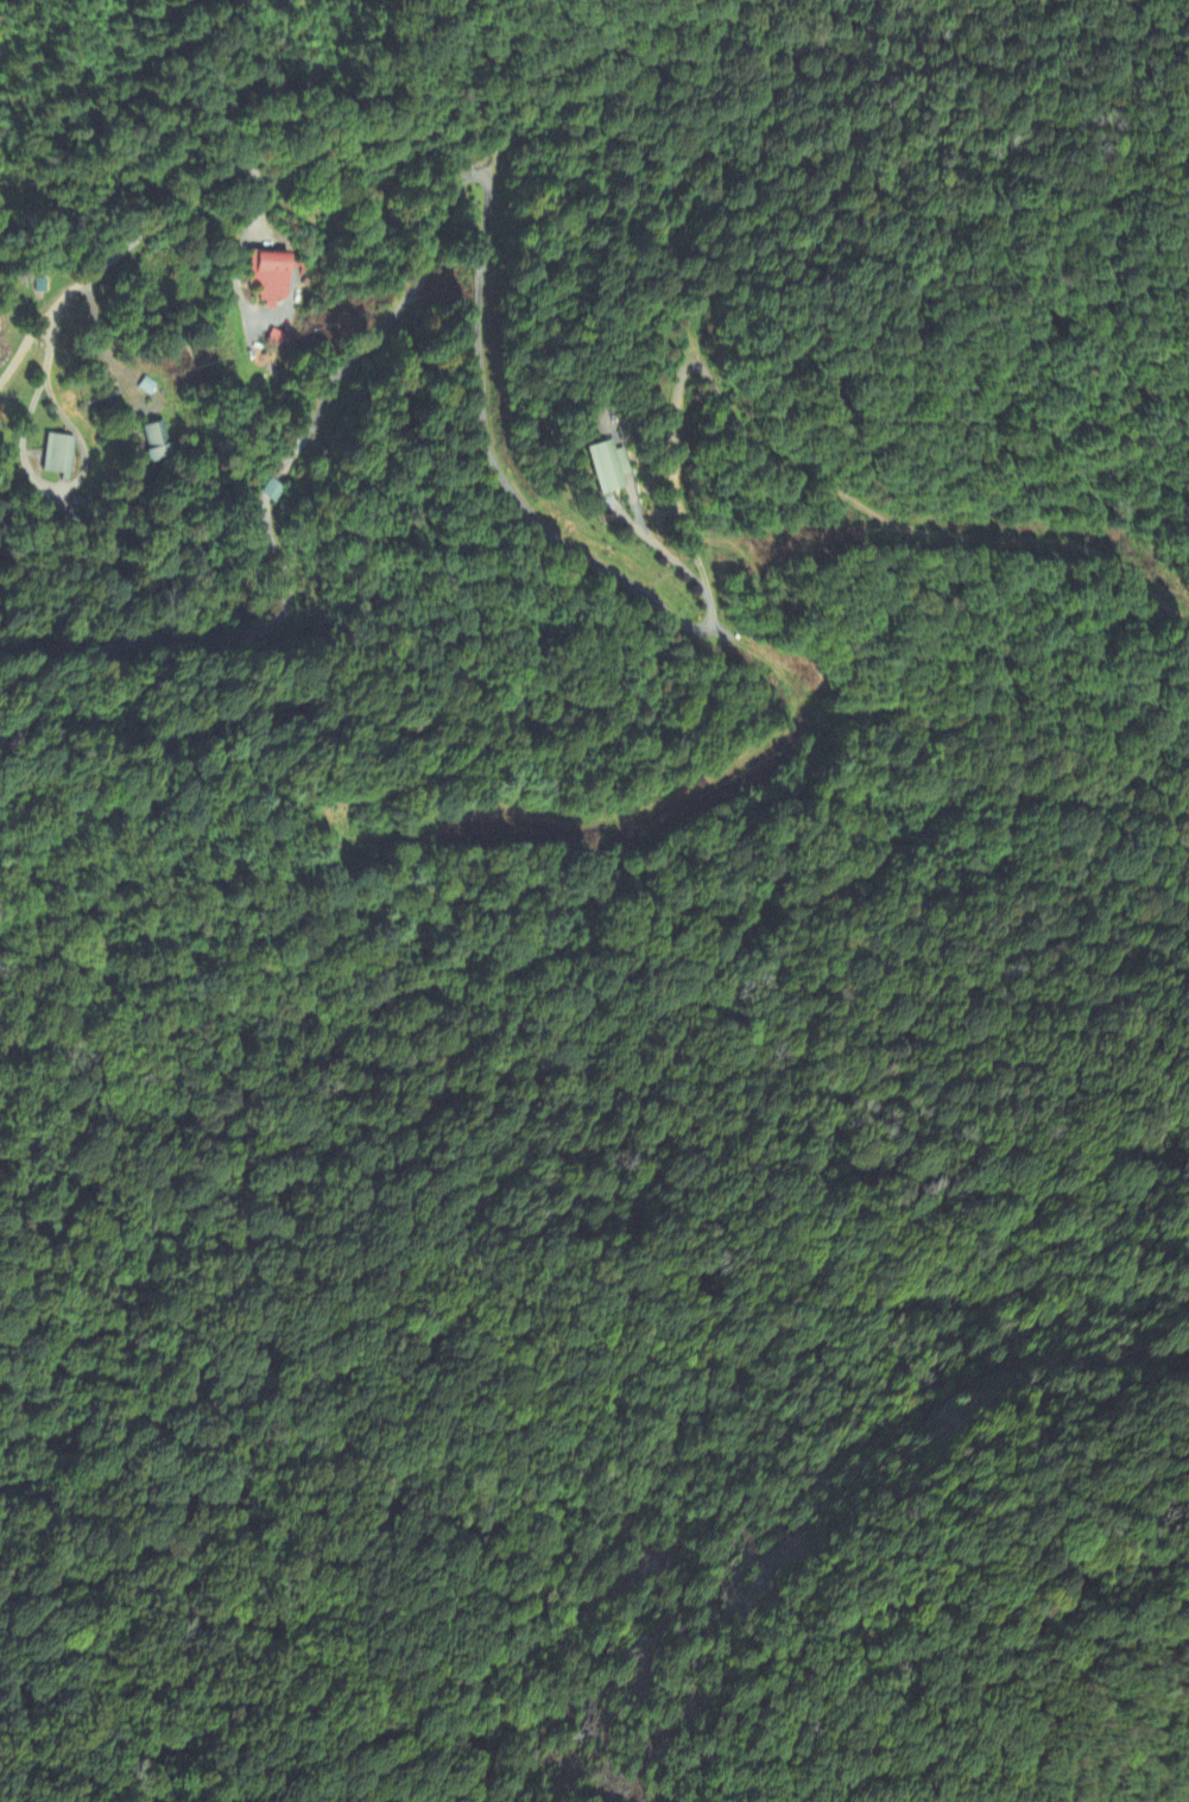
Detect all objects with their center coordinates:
road: (127, 241)
building: (271, 277)
building: (157, 441)
building: (58, 455)
building: (607, 466)
road: (499, 470)
building: (271, 491)

